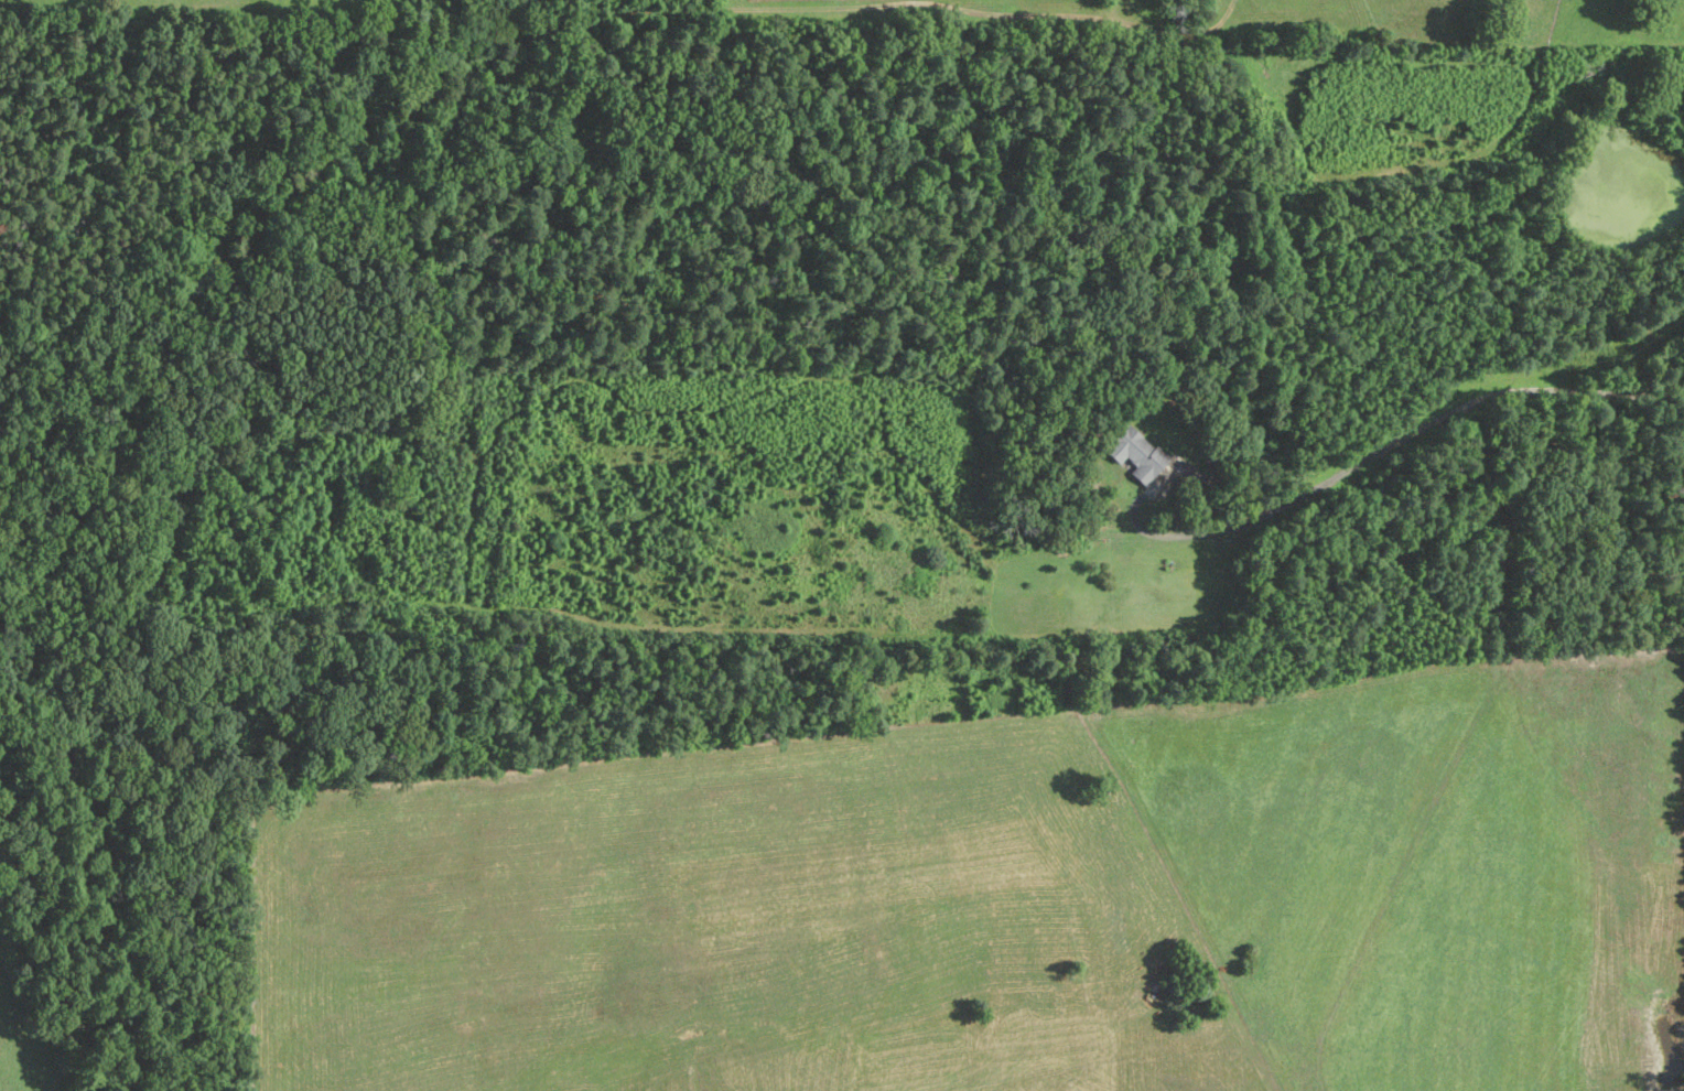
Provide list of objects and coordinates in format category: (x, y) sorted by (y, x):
road: (1472, 401)
road: (1132, 508)

